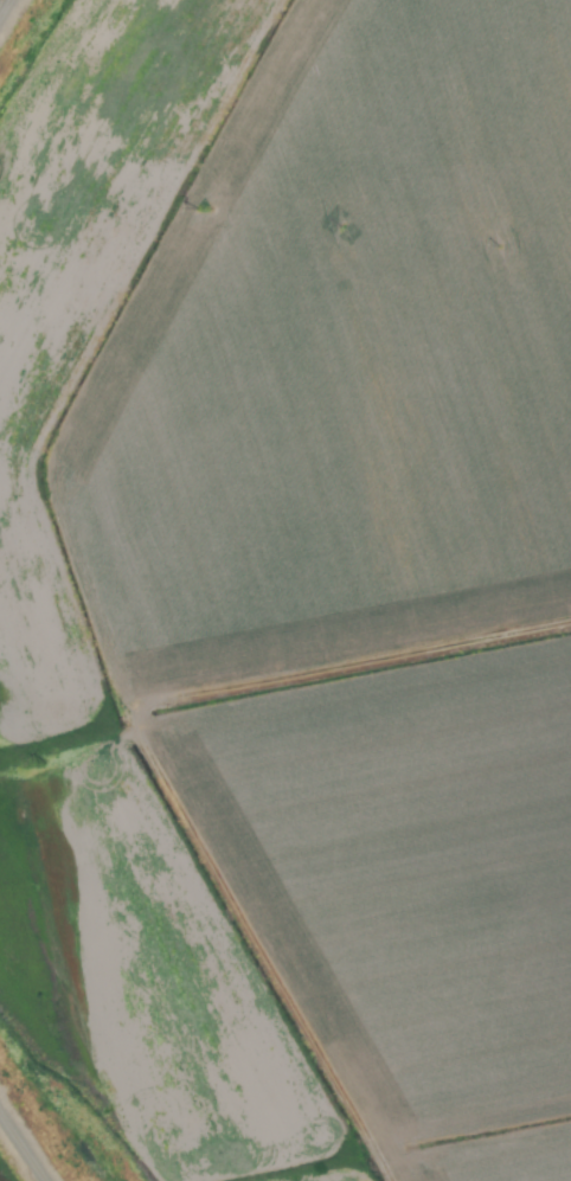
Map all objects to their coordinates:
crop: (285, 589)

